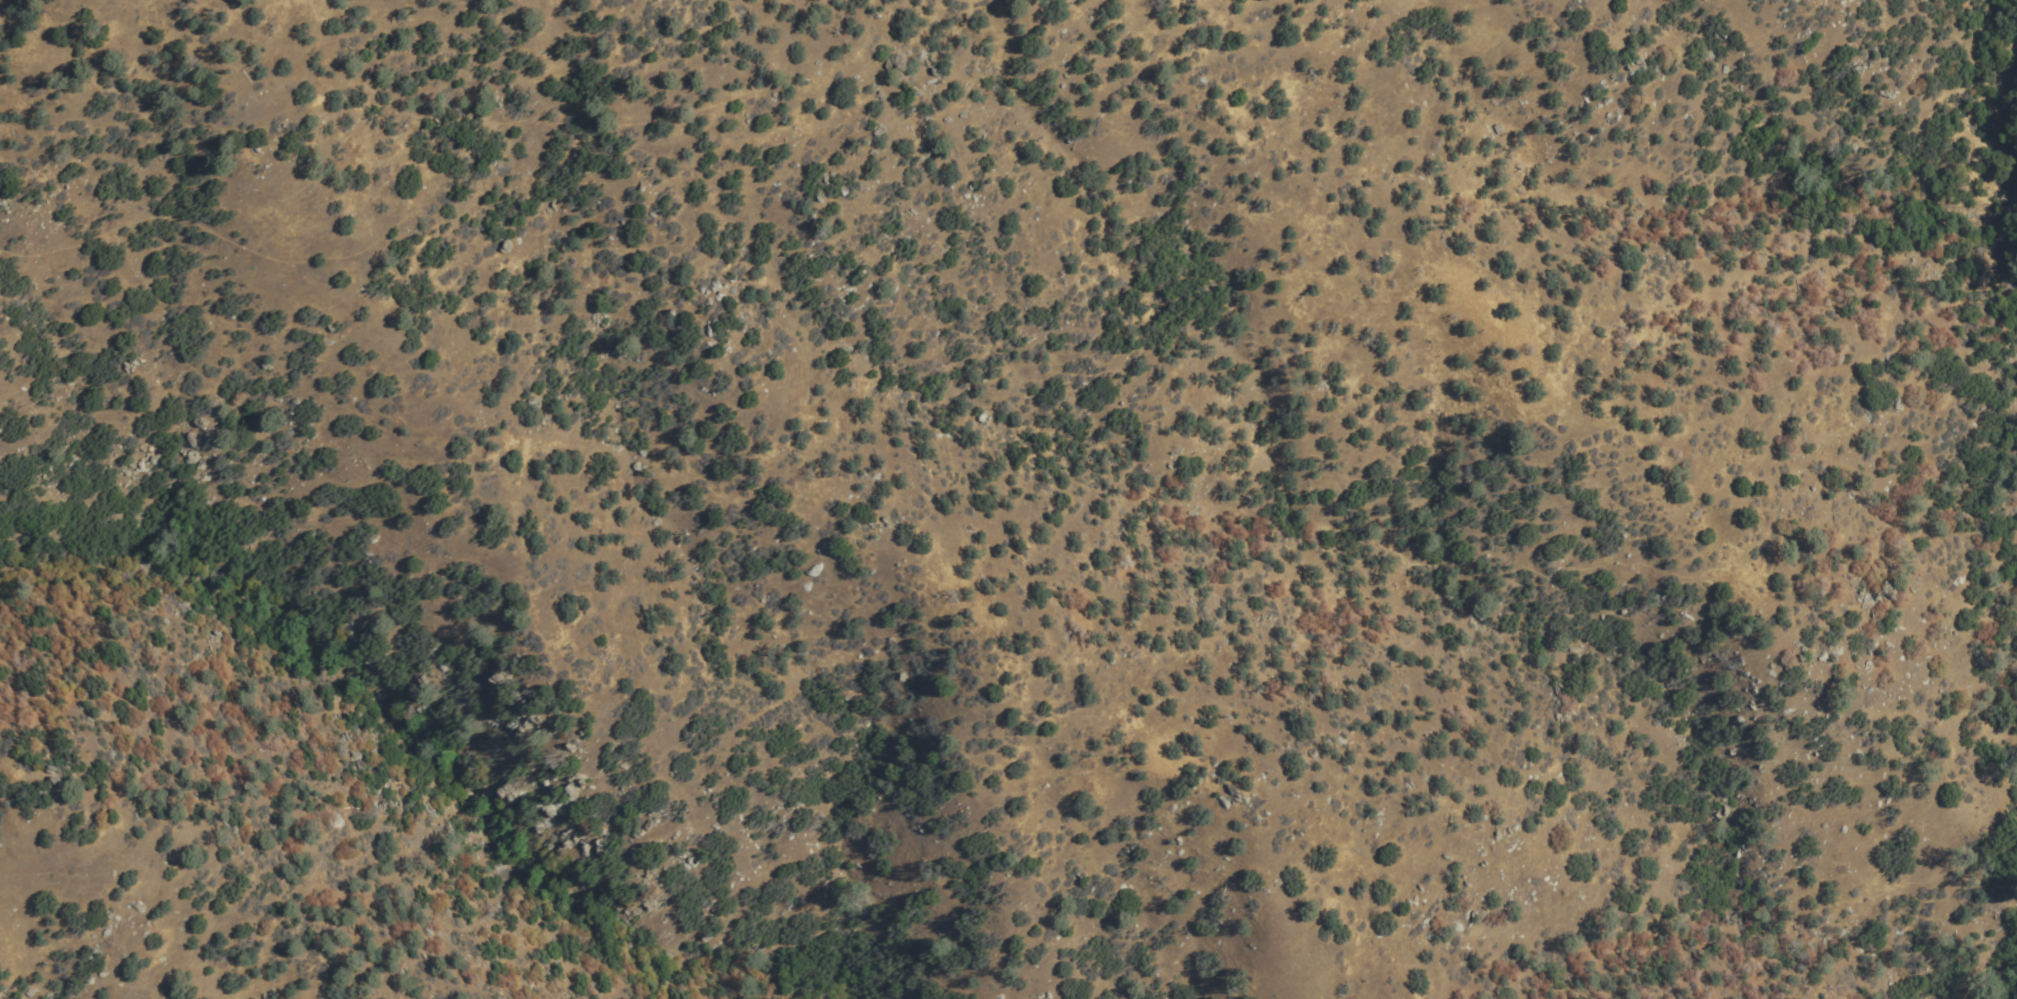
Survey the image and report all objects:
road: (432, 194)

